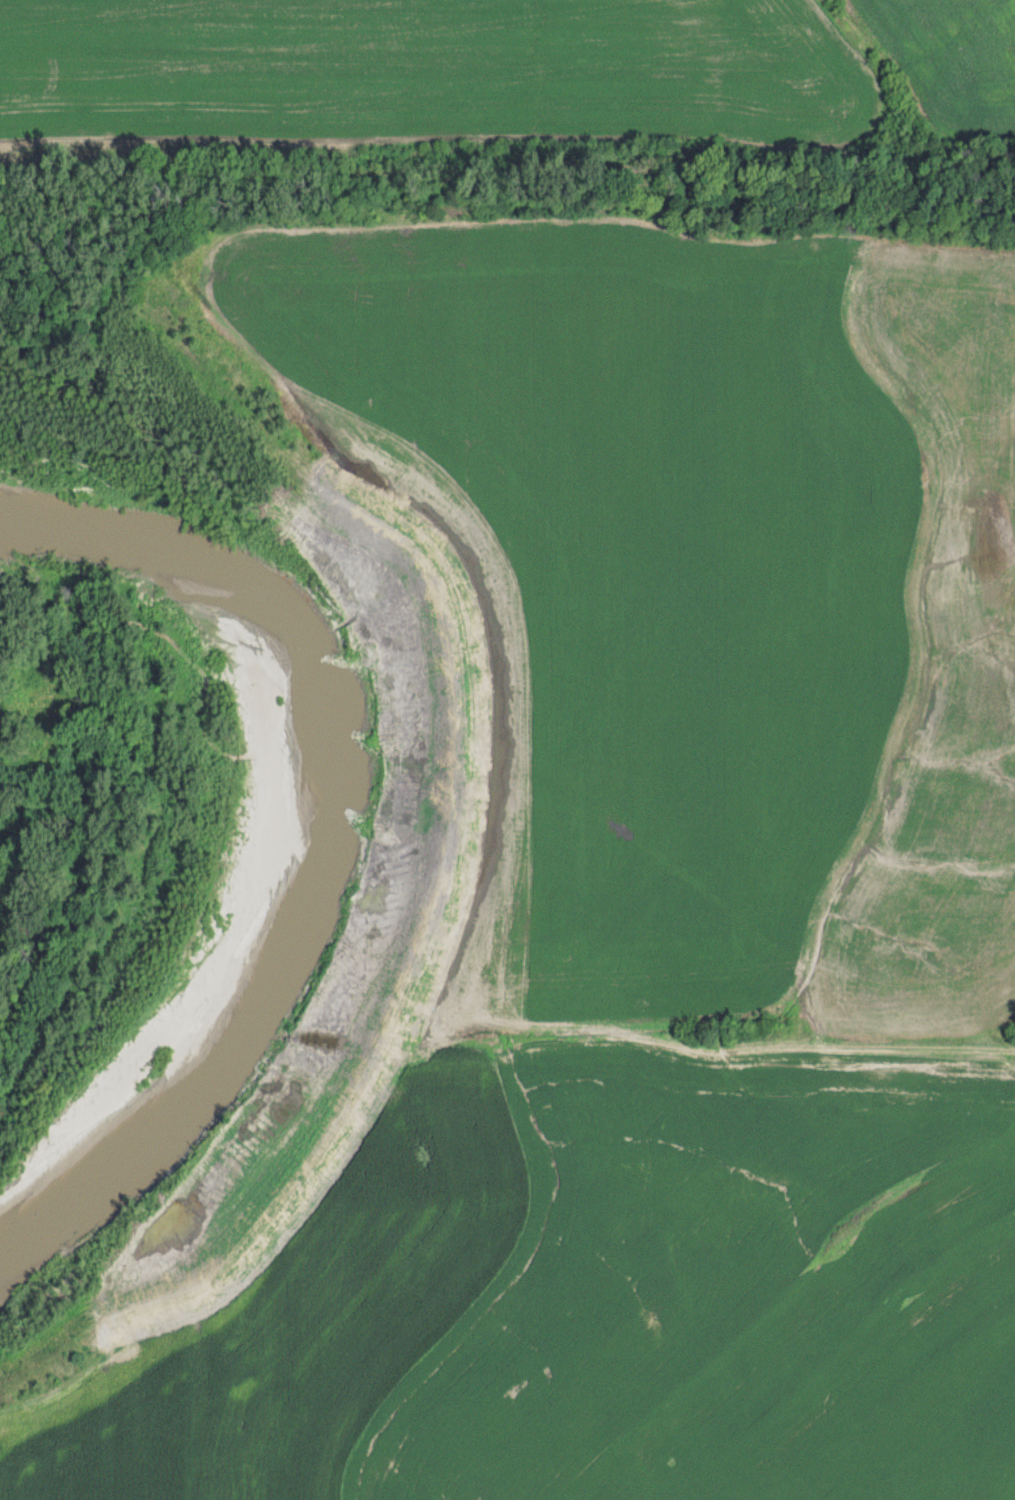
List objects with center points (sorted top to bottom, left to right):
river: (295, 812)

